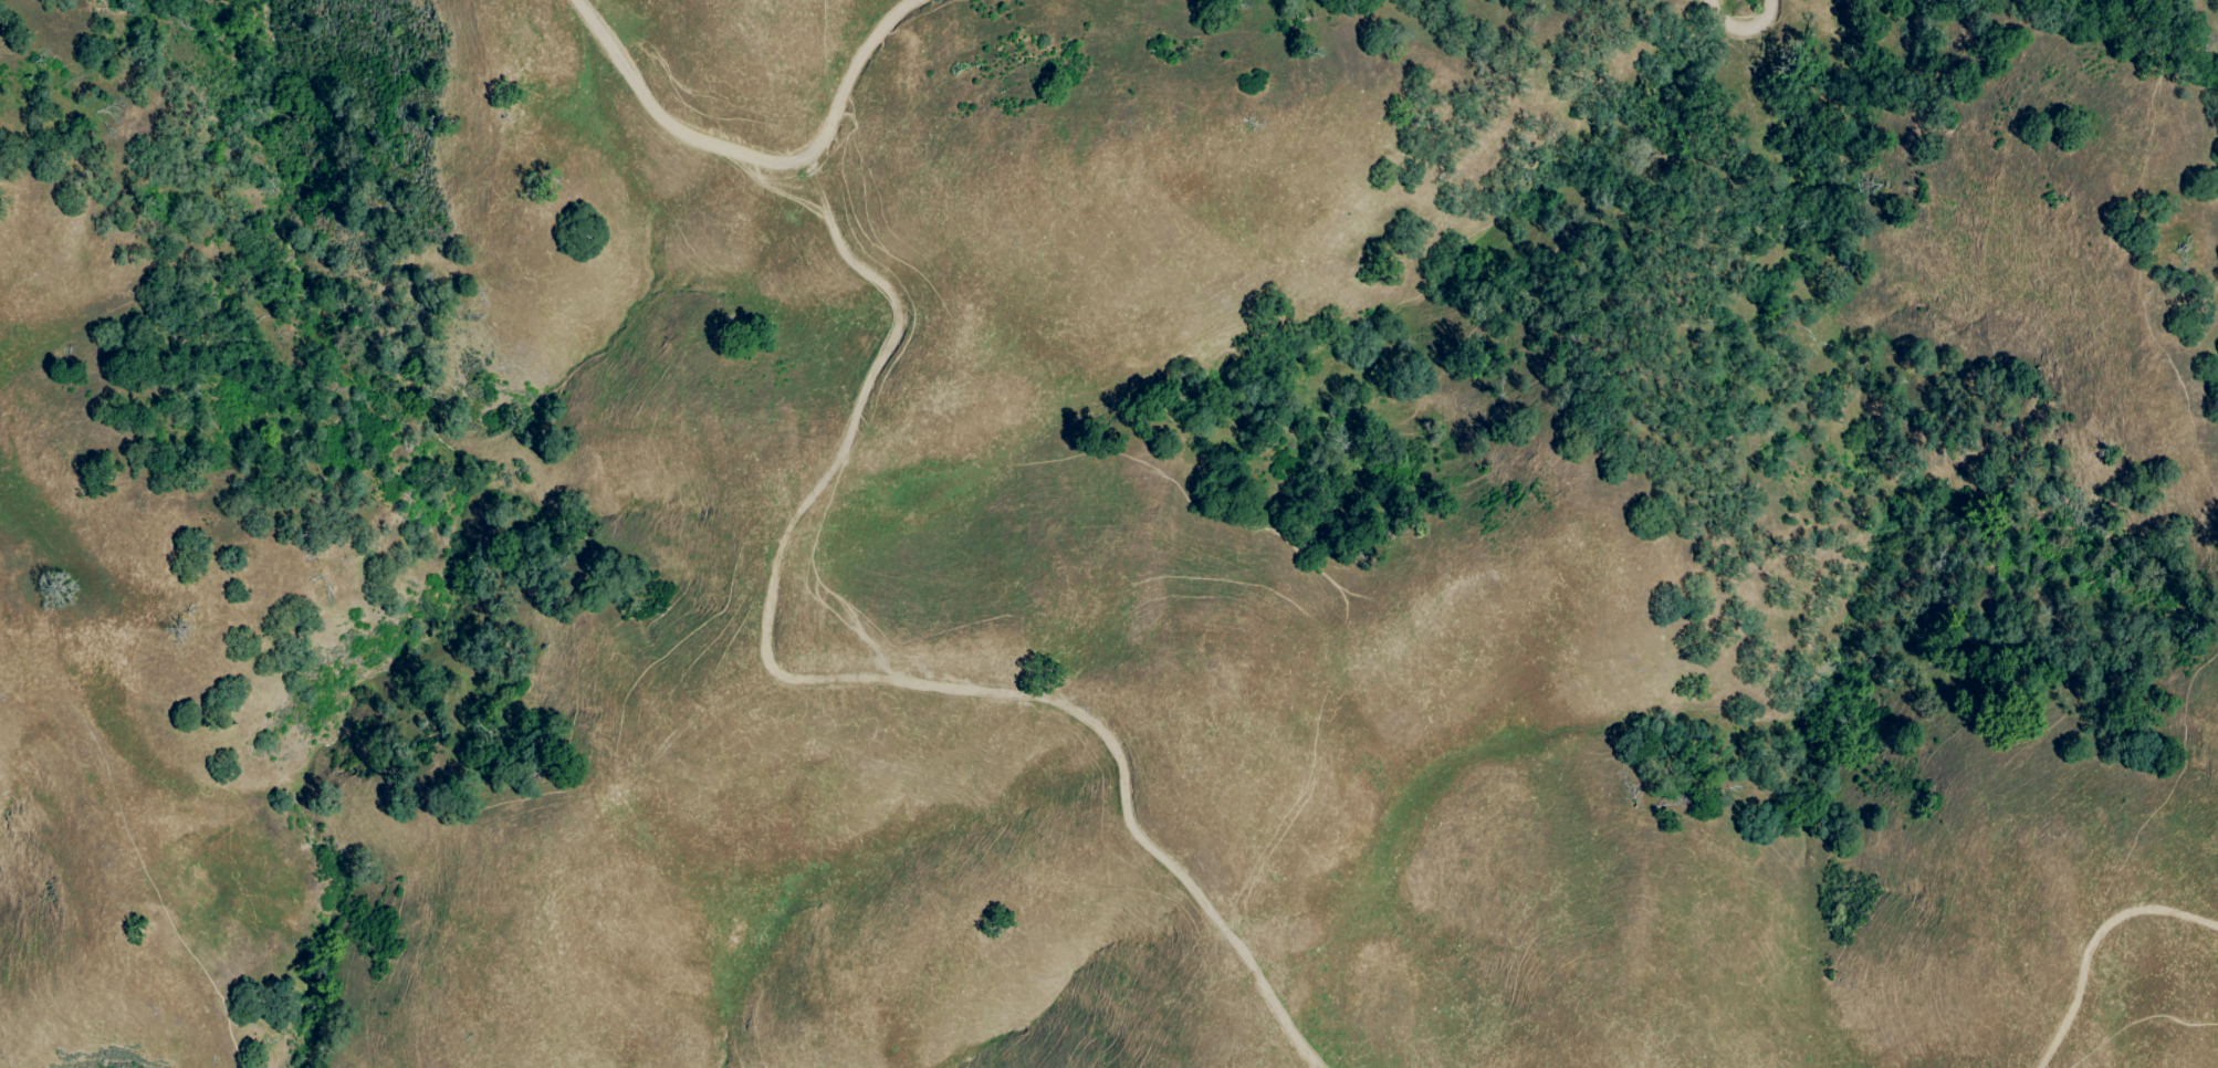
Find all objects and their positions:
road: (1750, 24)
road: (865, 75)
road: (669, 126)
road: (785, 545)
road: (1191, 888)
road: (2094, 942)

